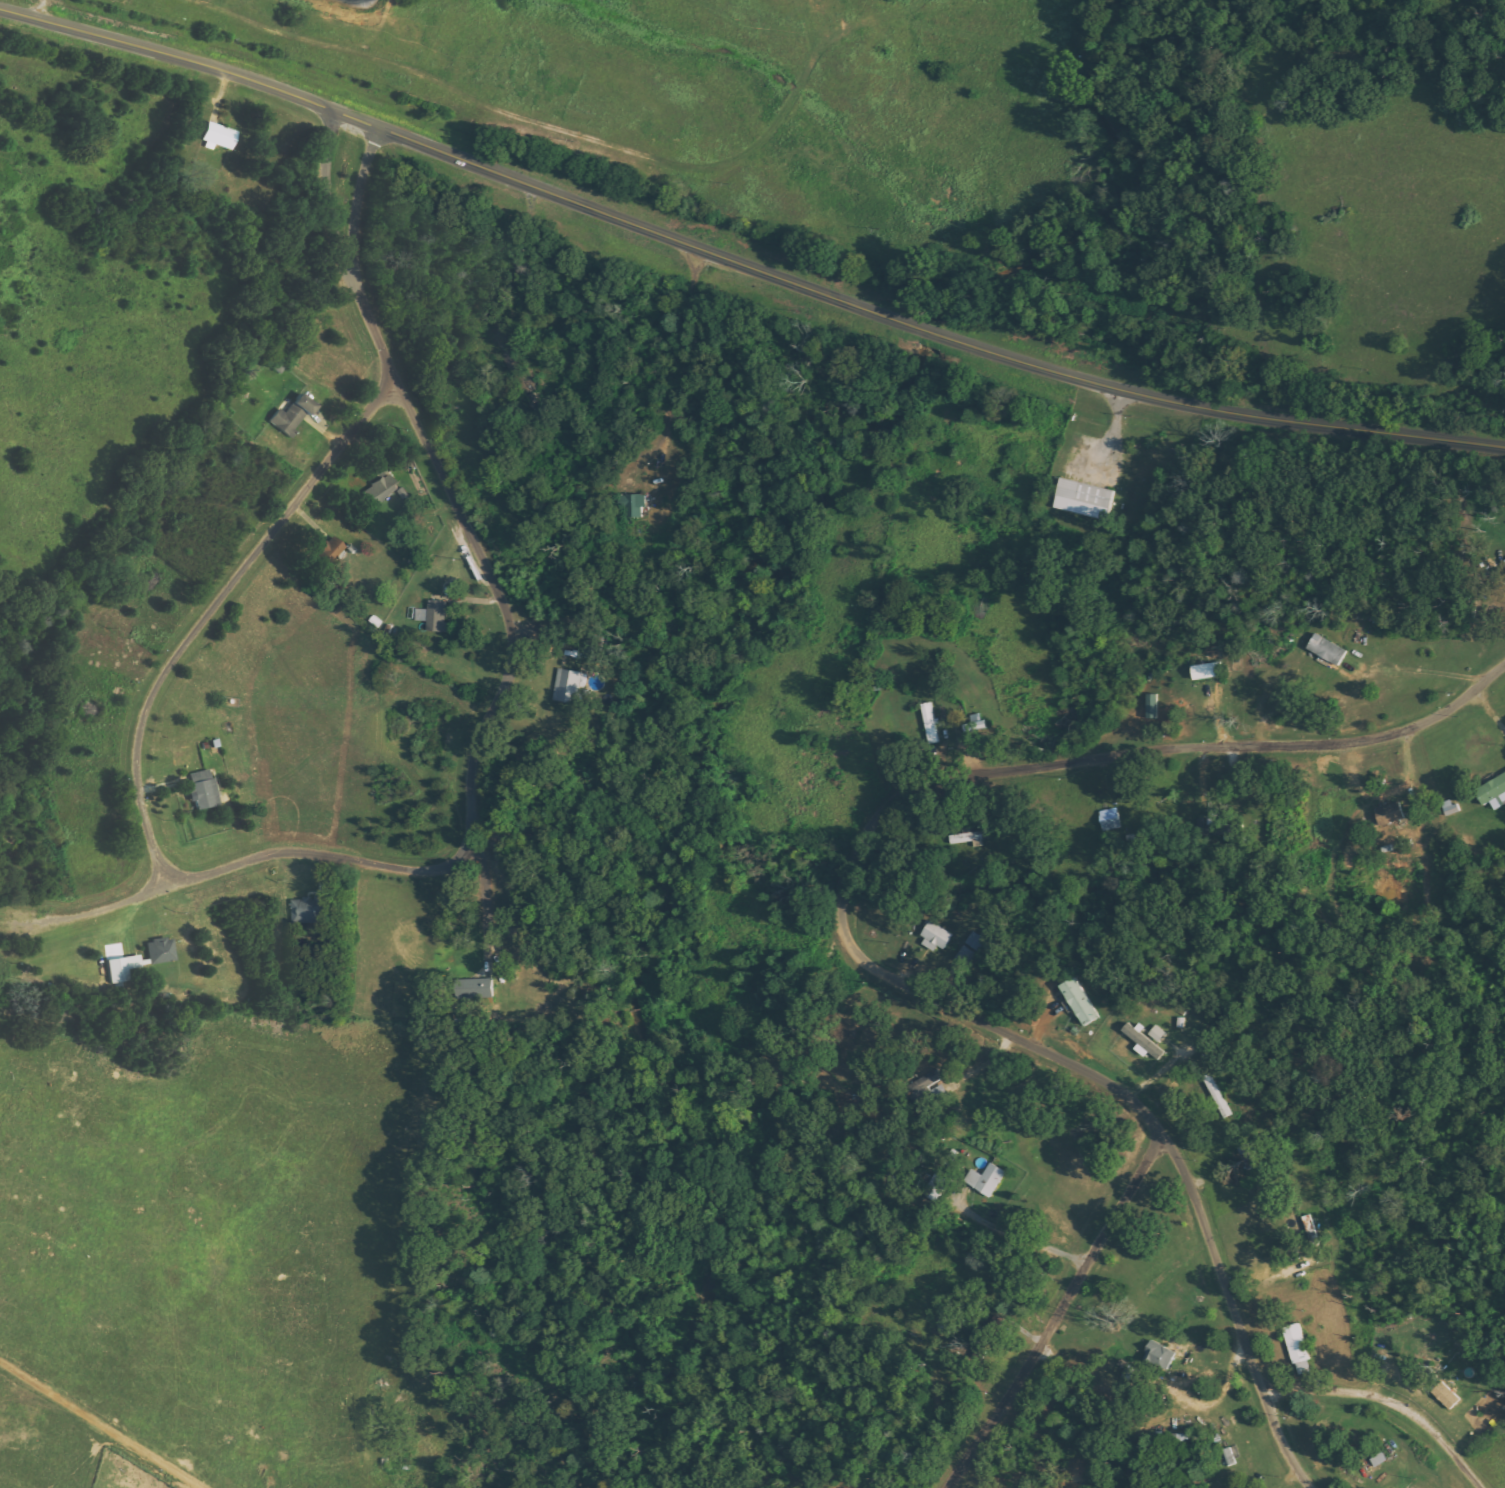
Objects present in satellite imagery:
building: (220, 135)
road: (742, 265)
building: (294, 414)
building: (382, 490)
building: (1085, 499)
building: (634, 507)
building: (332, 550)
building: (434, 616)
building: (1328, 650)
building: (1209, 671)
building: (569, 686)
building: (1153, 707)
building: (931, 724)
building: (977, 724)
road: (934, 783)
building: (204, 789)
building: (1494, 792)
building: (1392, 814)
building: (1111, 819)
building: (967, 838)
building: (311, 909)
building: (937, 936)
building: (162, 950)
building: (124, 967)
building: (1081, 1002)
building: (1158, 1034)
building: (1146, 1043)
building: (988, 1180)
building: (938, 1187)
road: (1219, 1270)
road: (1055, 1315)
building: (1298, 1348)
building: (1161, 1354)
building: (1448, 1395)
road: (1387, 1406)
road: (1281, 1446)

